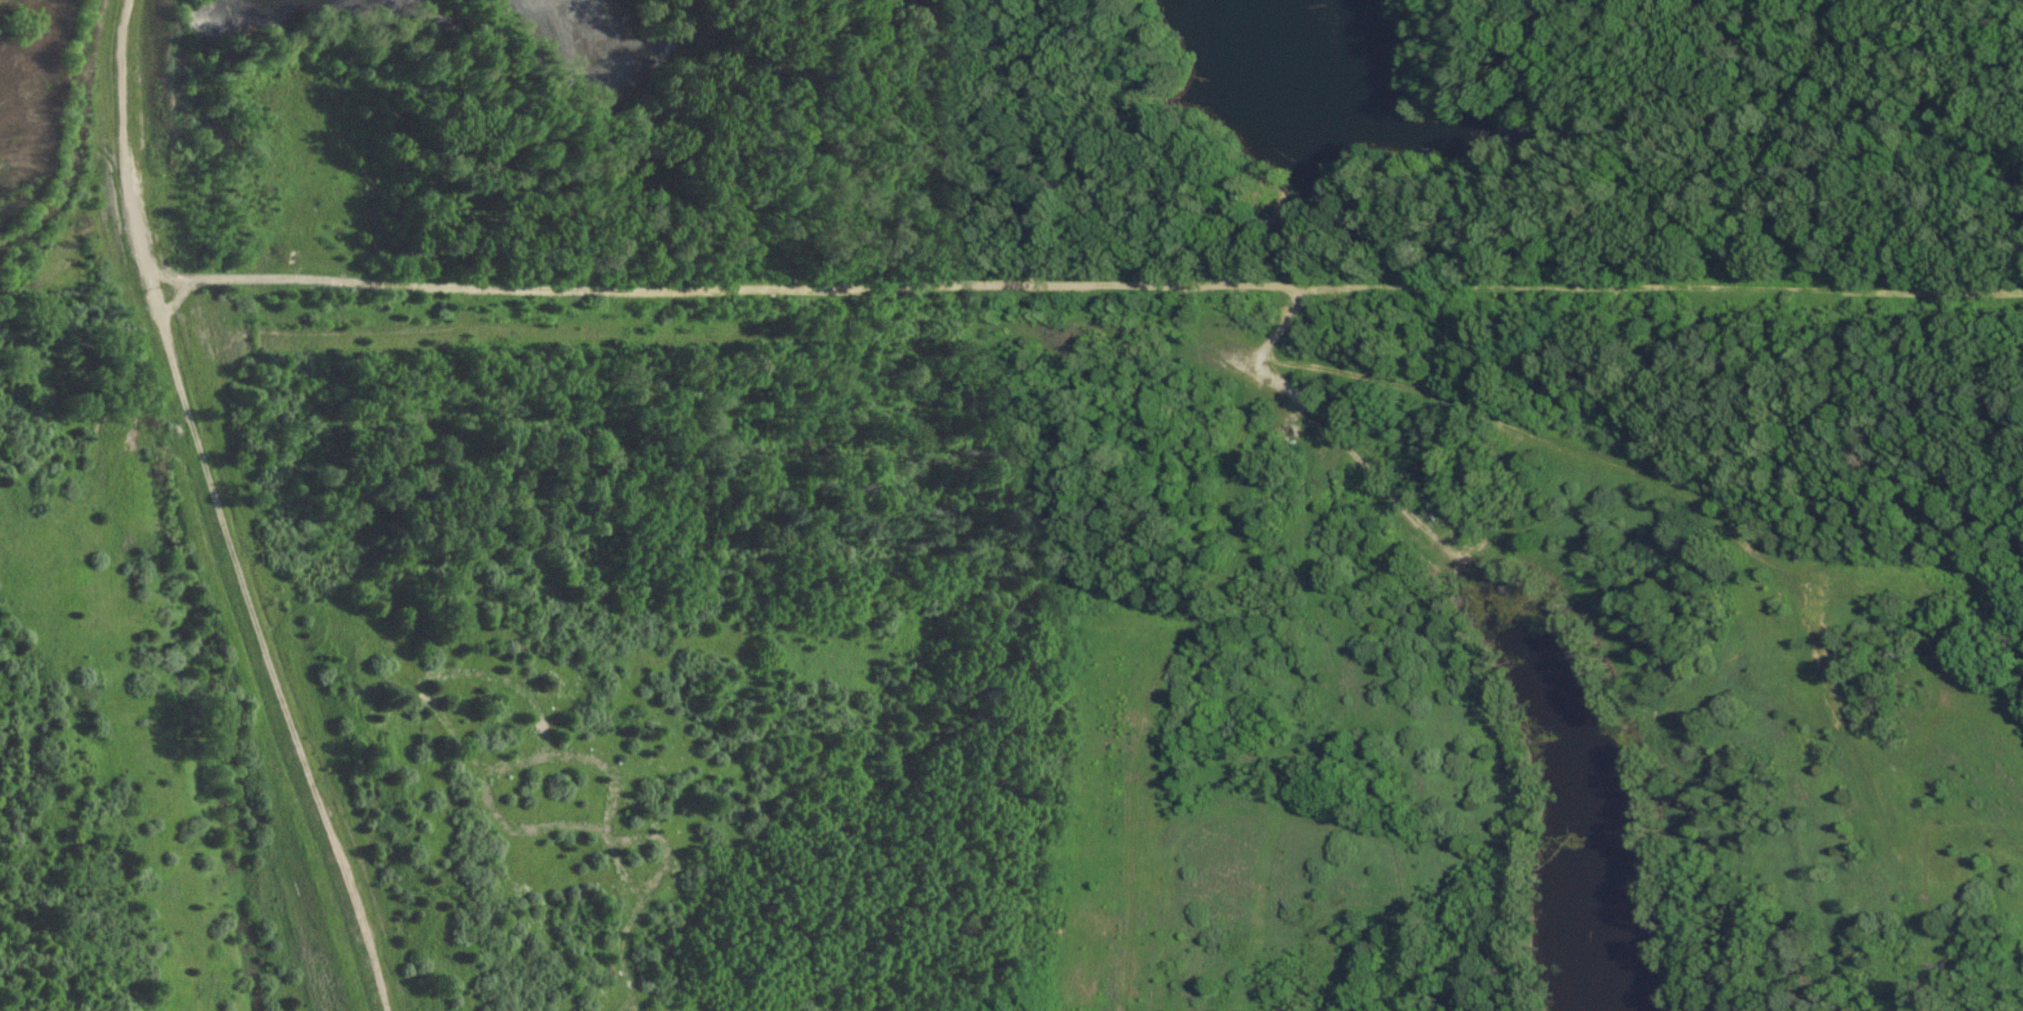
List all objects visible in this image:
road: (1011, 285)
road: (228, 511)

